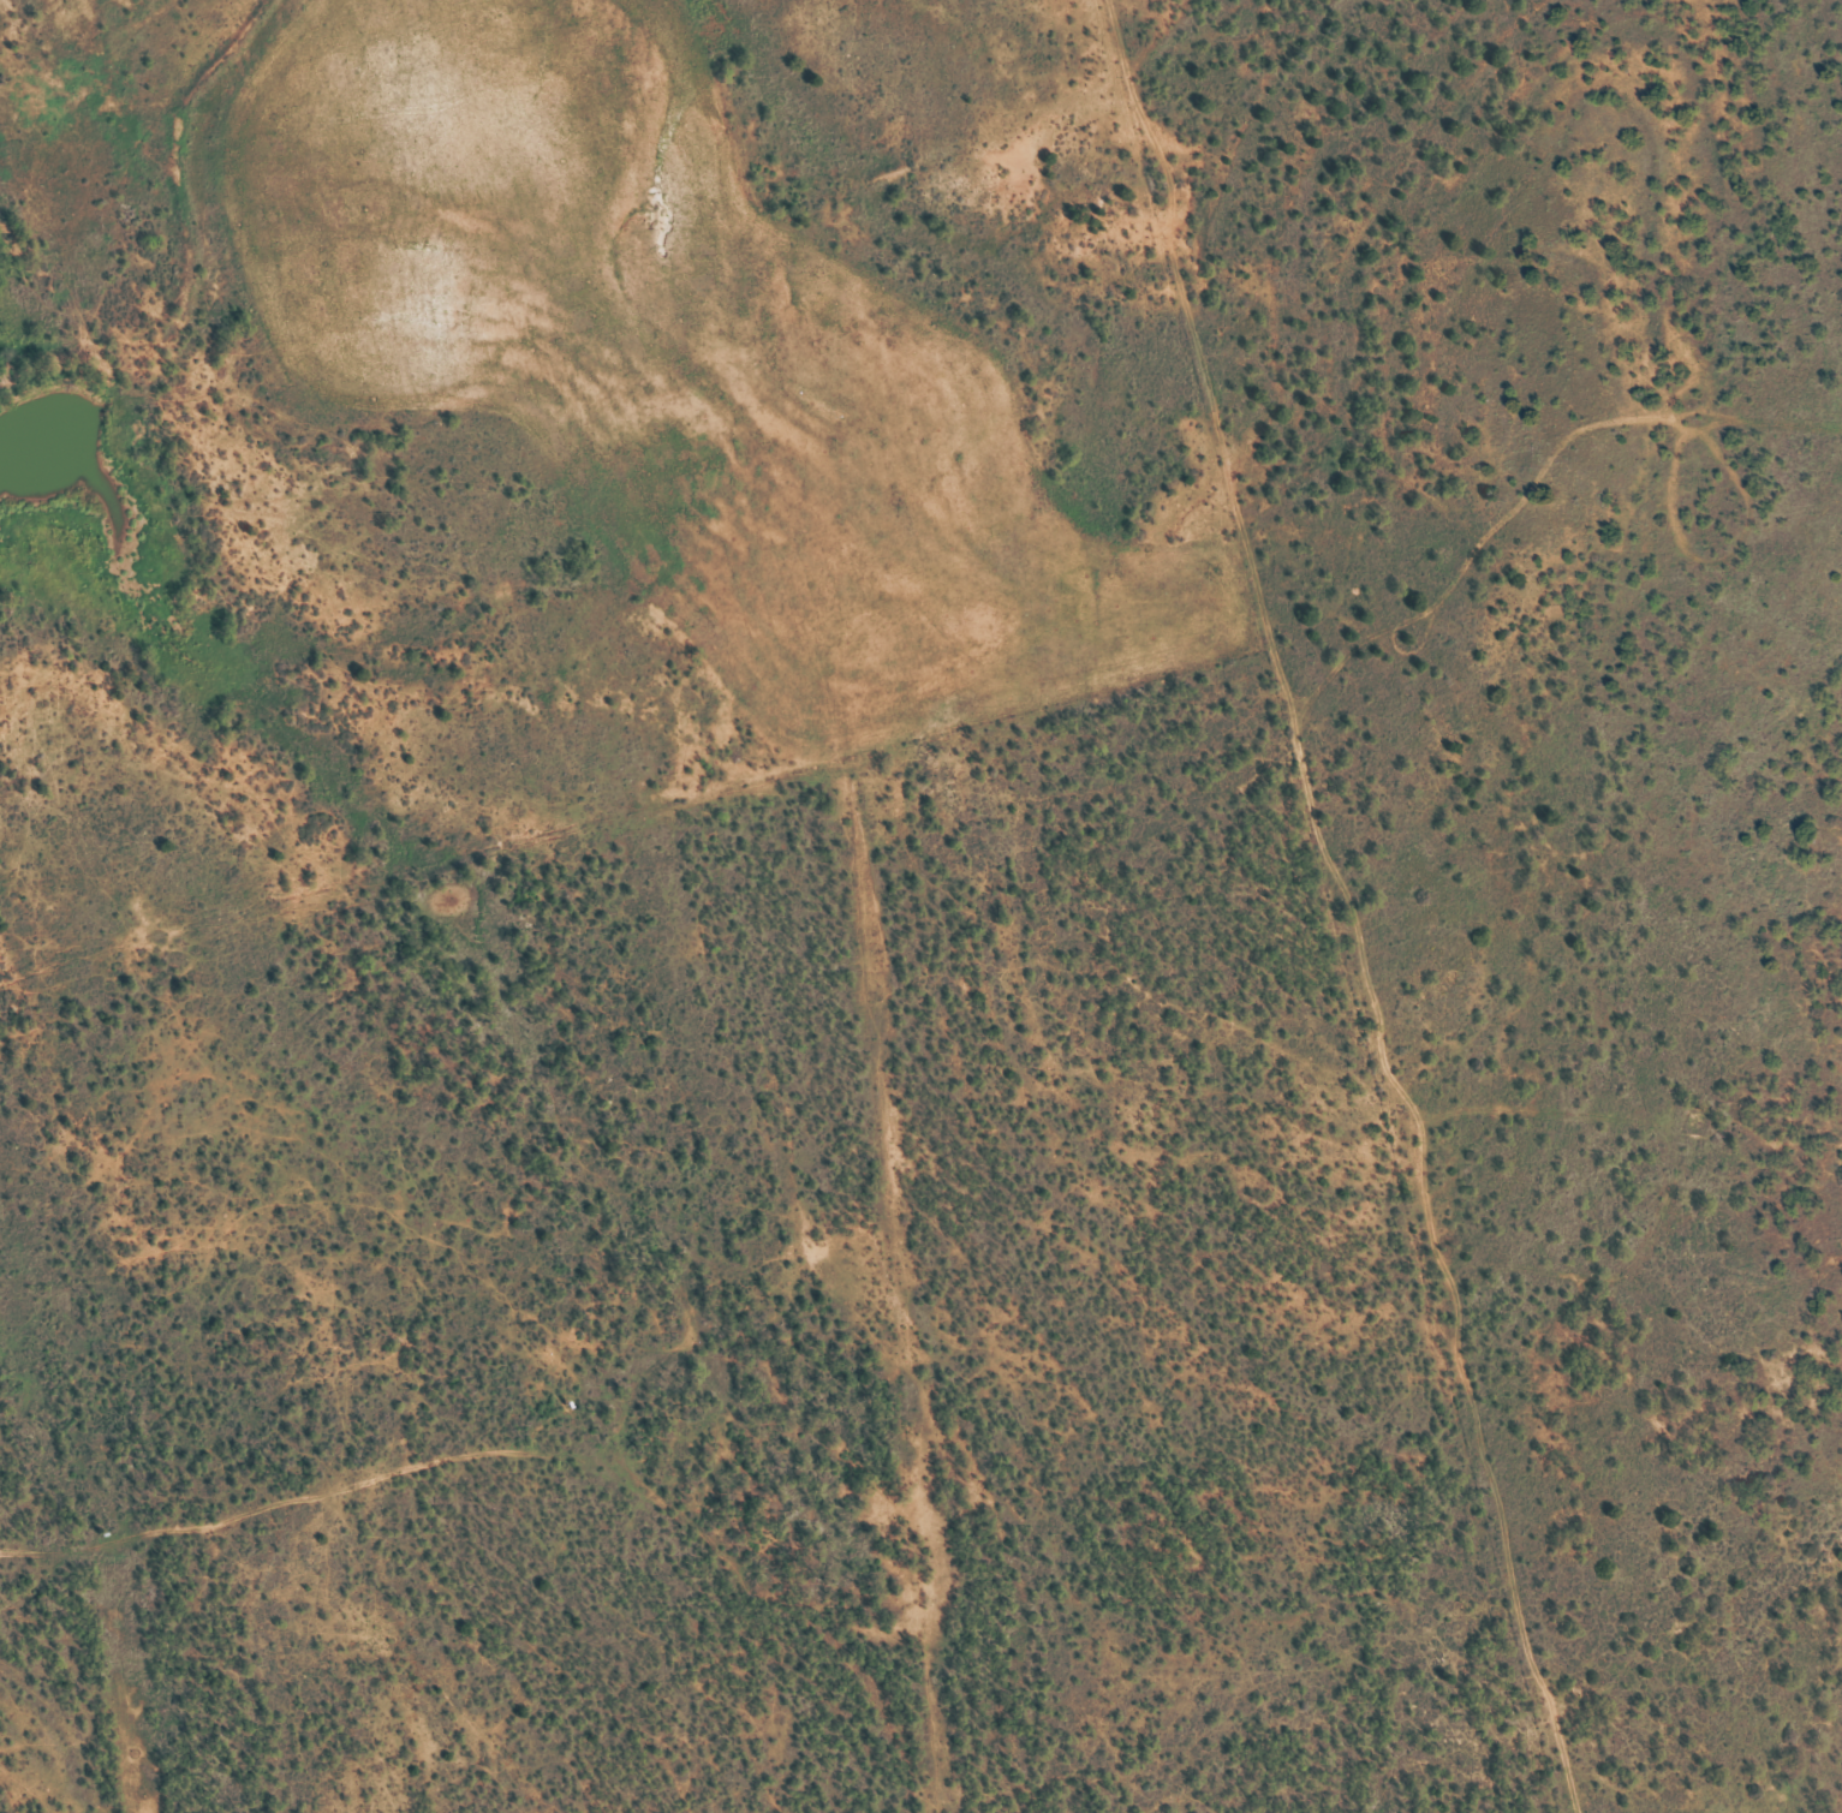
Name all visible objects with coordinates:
road: (61, 252)

